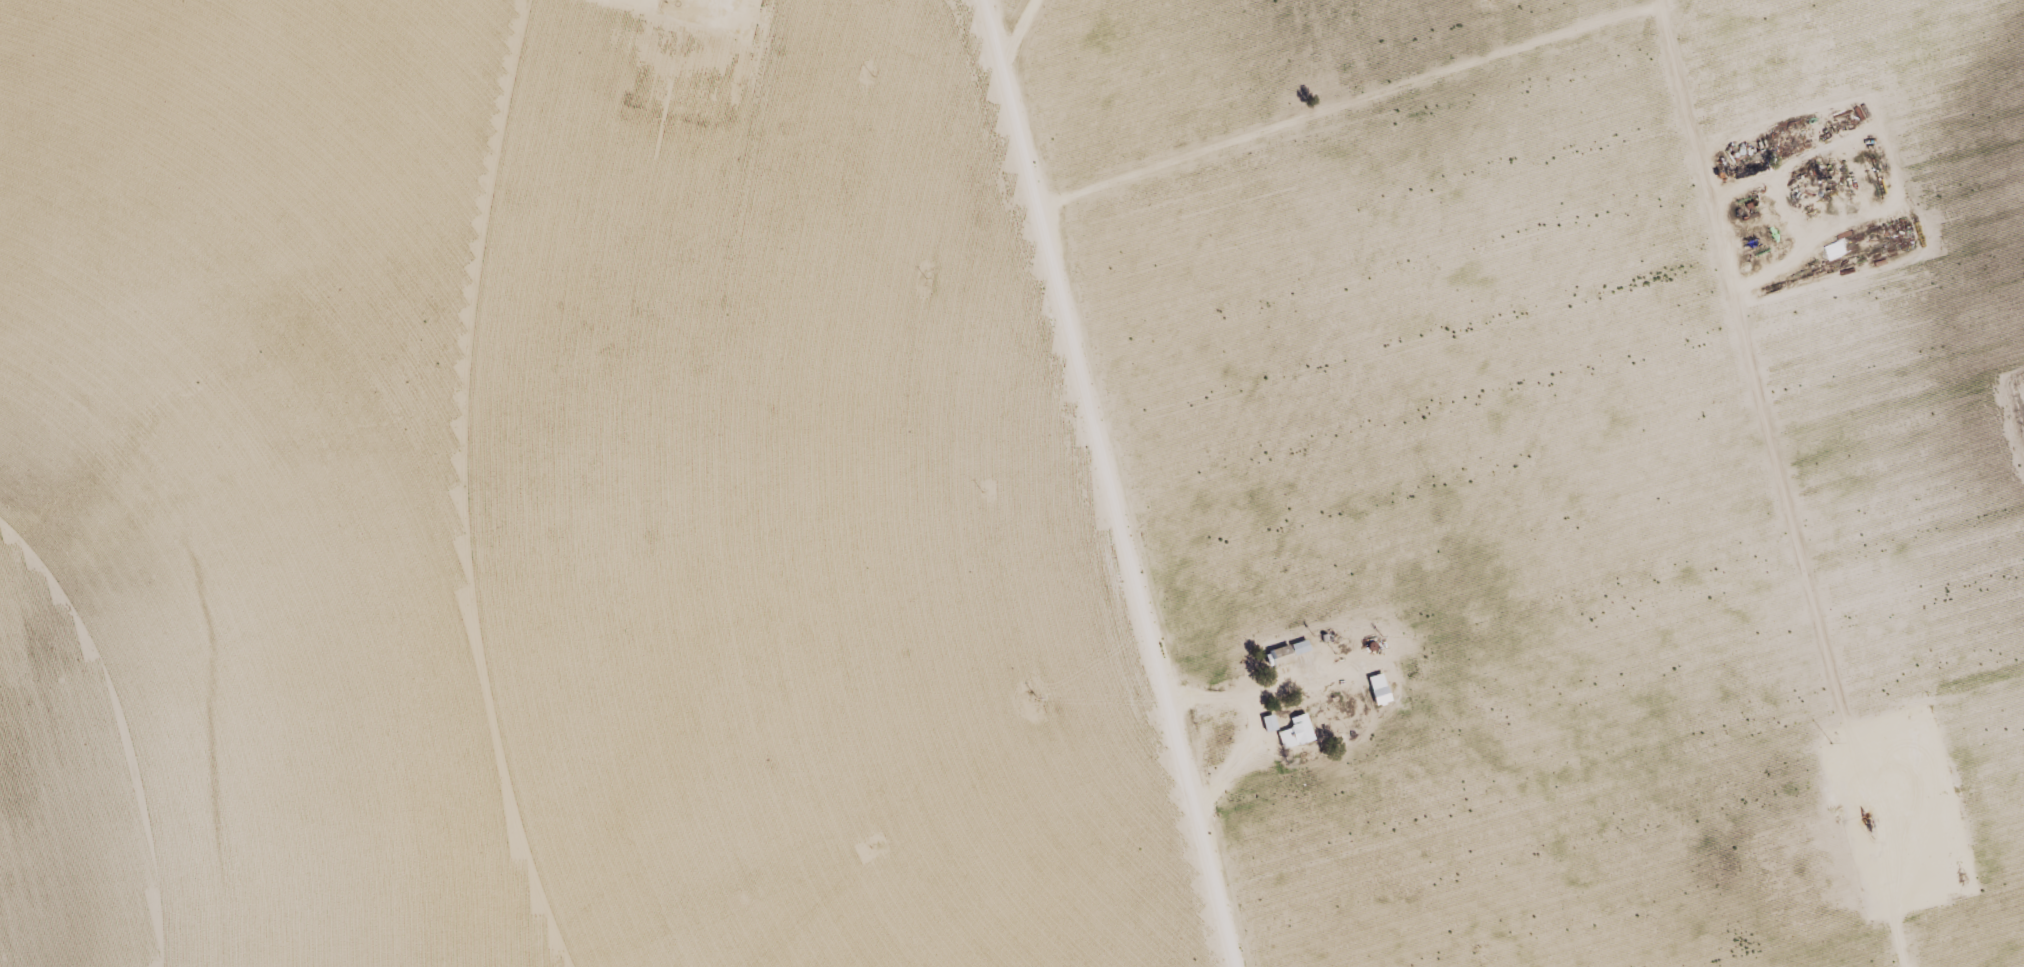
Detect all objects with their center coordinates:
road: (1098, 480)
building: (1376, 686)
building: (1295, 730)
road: (1251, 732)

